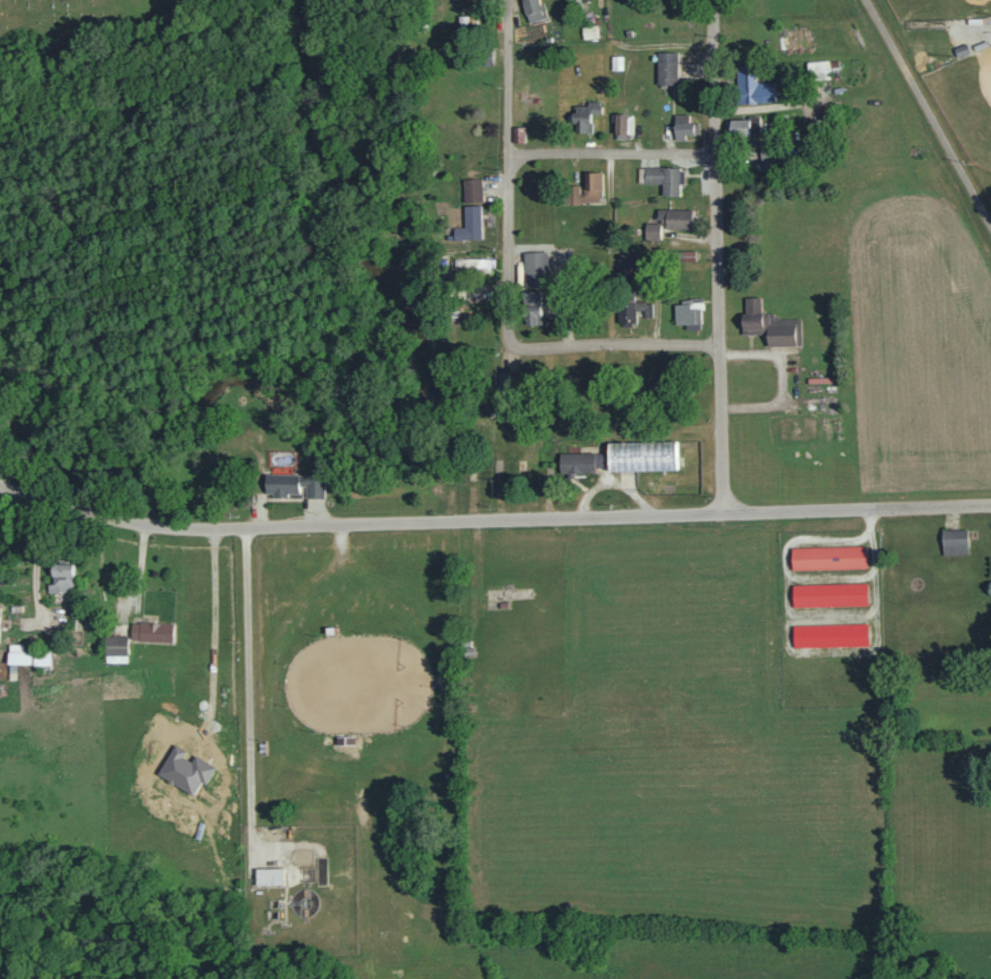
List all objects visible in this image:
park: (939, 9)
building: (533, 10)
park: (67, 27)
road: (973, 31)
building: (589, 32)
building: (616, 63)
building: (667, 69)
building: (818, 70)
park: (951, 70)
building: (750, 85)
park: (966, 101)
road: (927, 113)
building: (585, 117)
building: (623, 126)
building: (684, 126)
building: (743, 127)
building: (517, 134)
road: (610, 153)
road: (508, 170)
building: (665, 179)
building: (586, 189)
building: (472, 190)
building: (676, 218)
building: (469, 224)
building: (652, 231)
building: (685, 256)
road: (716, 257)
building: (474, 263)
building: (627, 266)
building: (534, 270)
building: (532, 308)
building: (633, 311)
building: (687, 312)
building: (769, 325)
road: (612, 348)
building: (641, 456)
building: (581, 463)
building: (294, 485)
road: (706, 514)
road: (207, 528)
building: (954, 542)
building: (828, 557)
road: (830, 576)
building: (62, 578)
building: (830, 595)
road: (832, 616)
building: (151, 632)
building: (831, 635)
building: (115, 645)
road: (806, 652)
building: (17, 659)
building: (41, 659)
road: (247, 689)
building: (269, 876)

